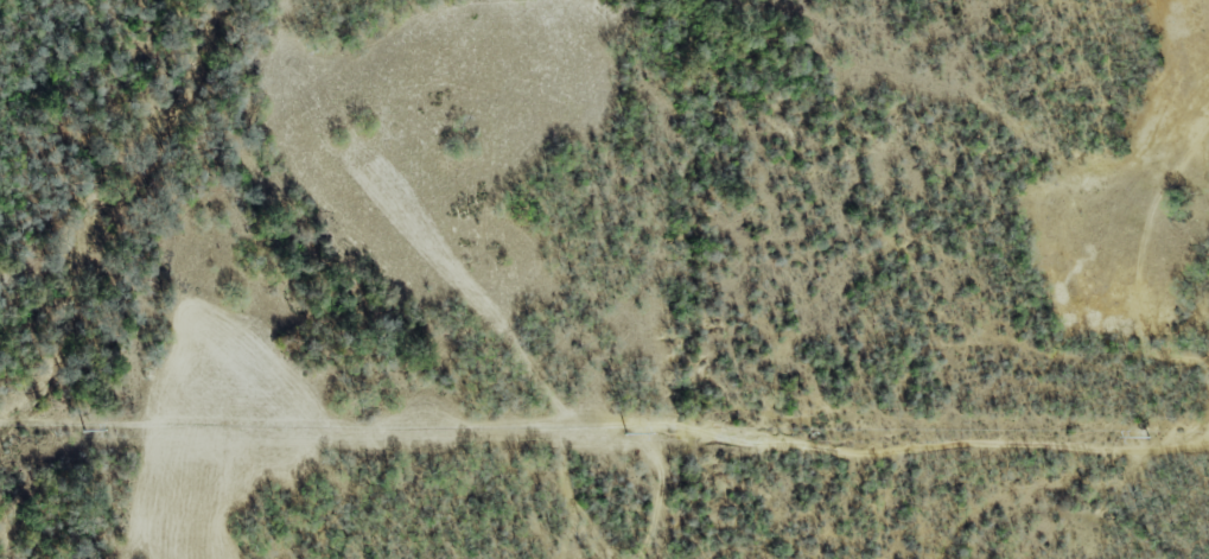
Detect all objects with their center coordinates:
power tower: (79, 432)
power tower: (623, 436)
power tower: (1146, 438)

